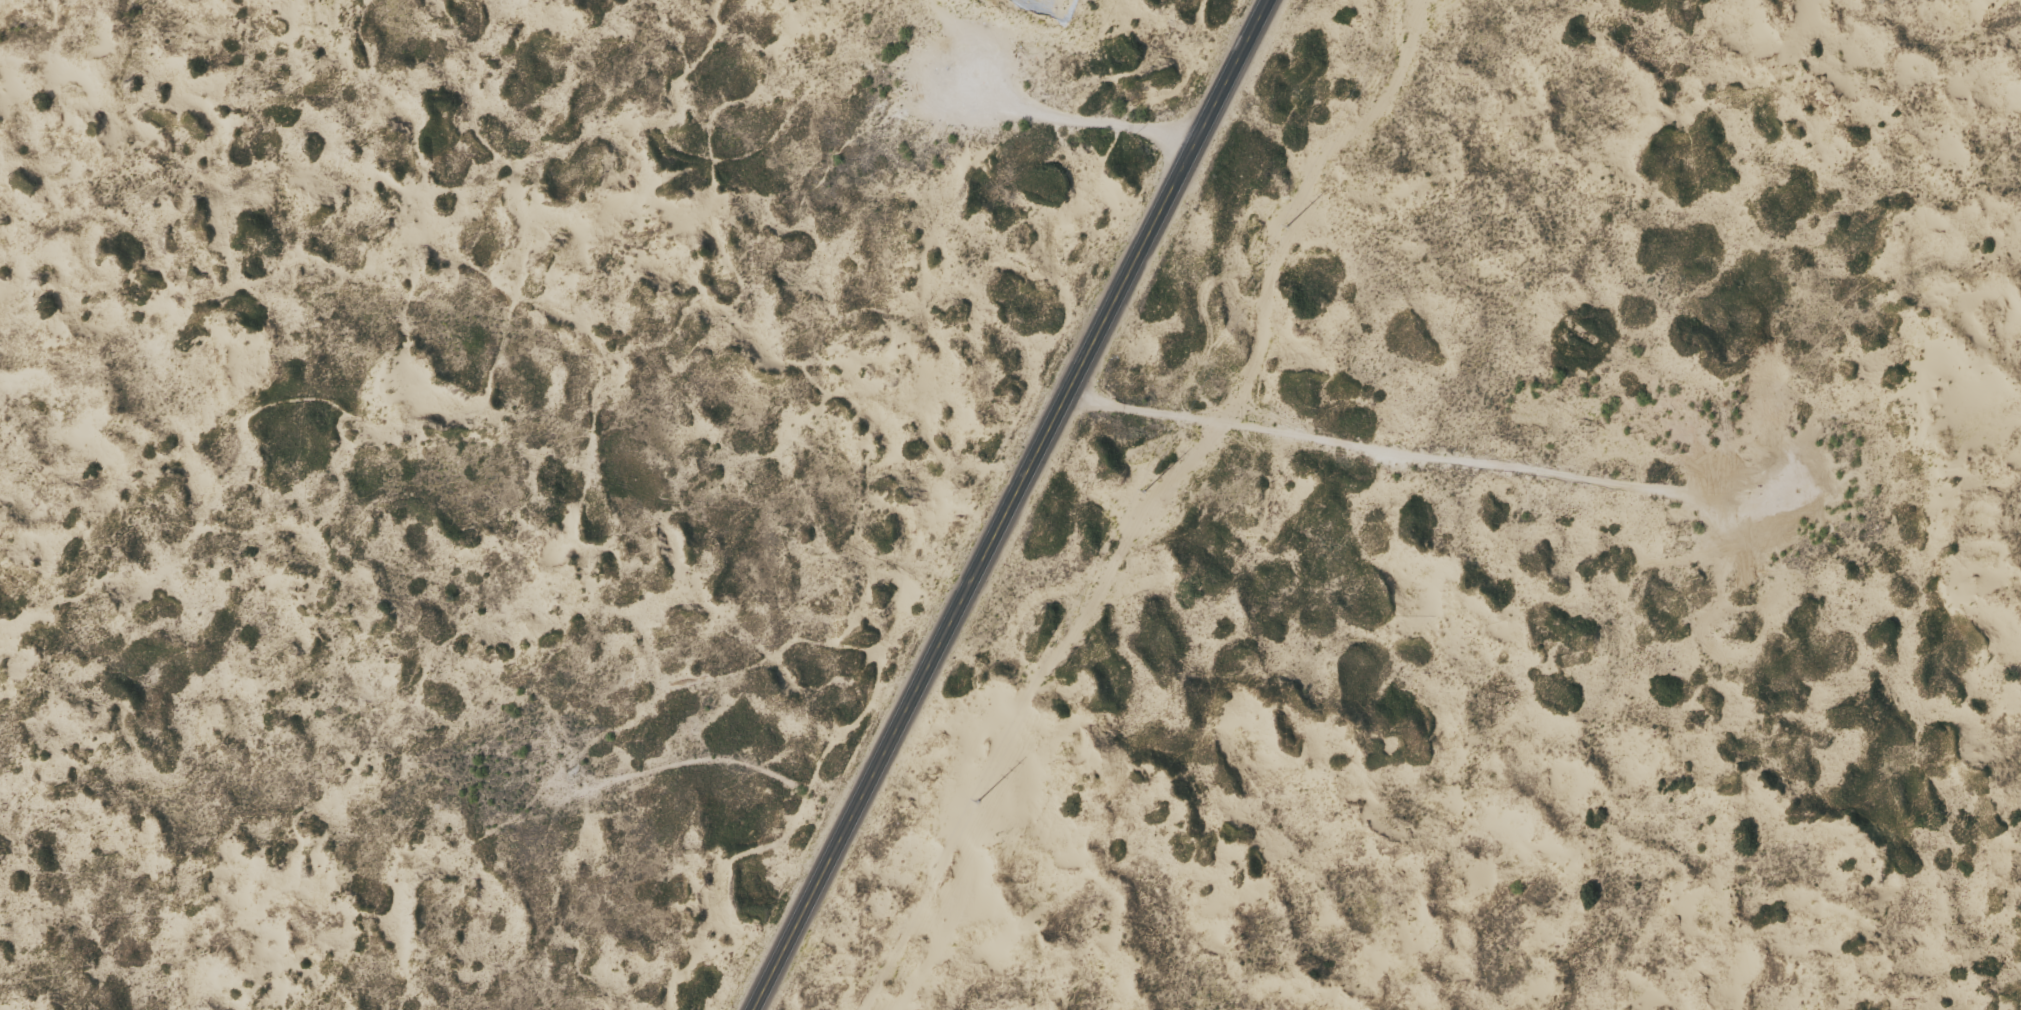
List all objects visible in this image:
power tower: (1303, 234)
power tower: (1160, 502)
road: (1011, 505)
power tower: (993, 814)

